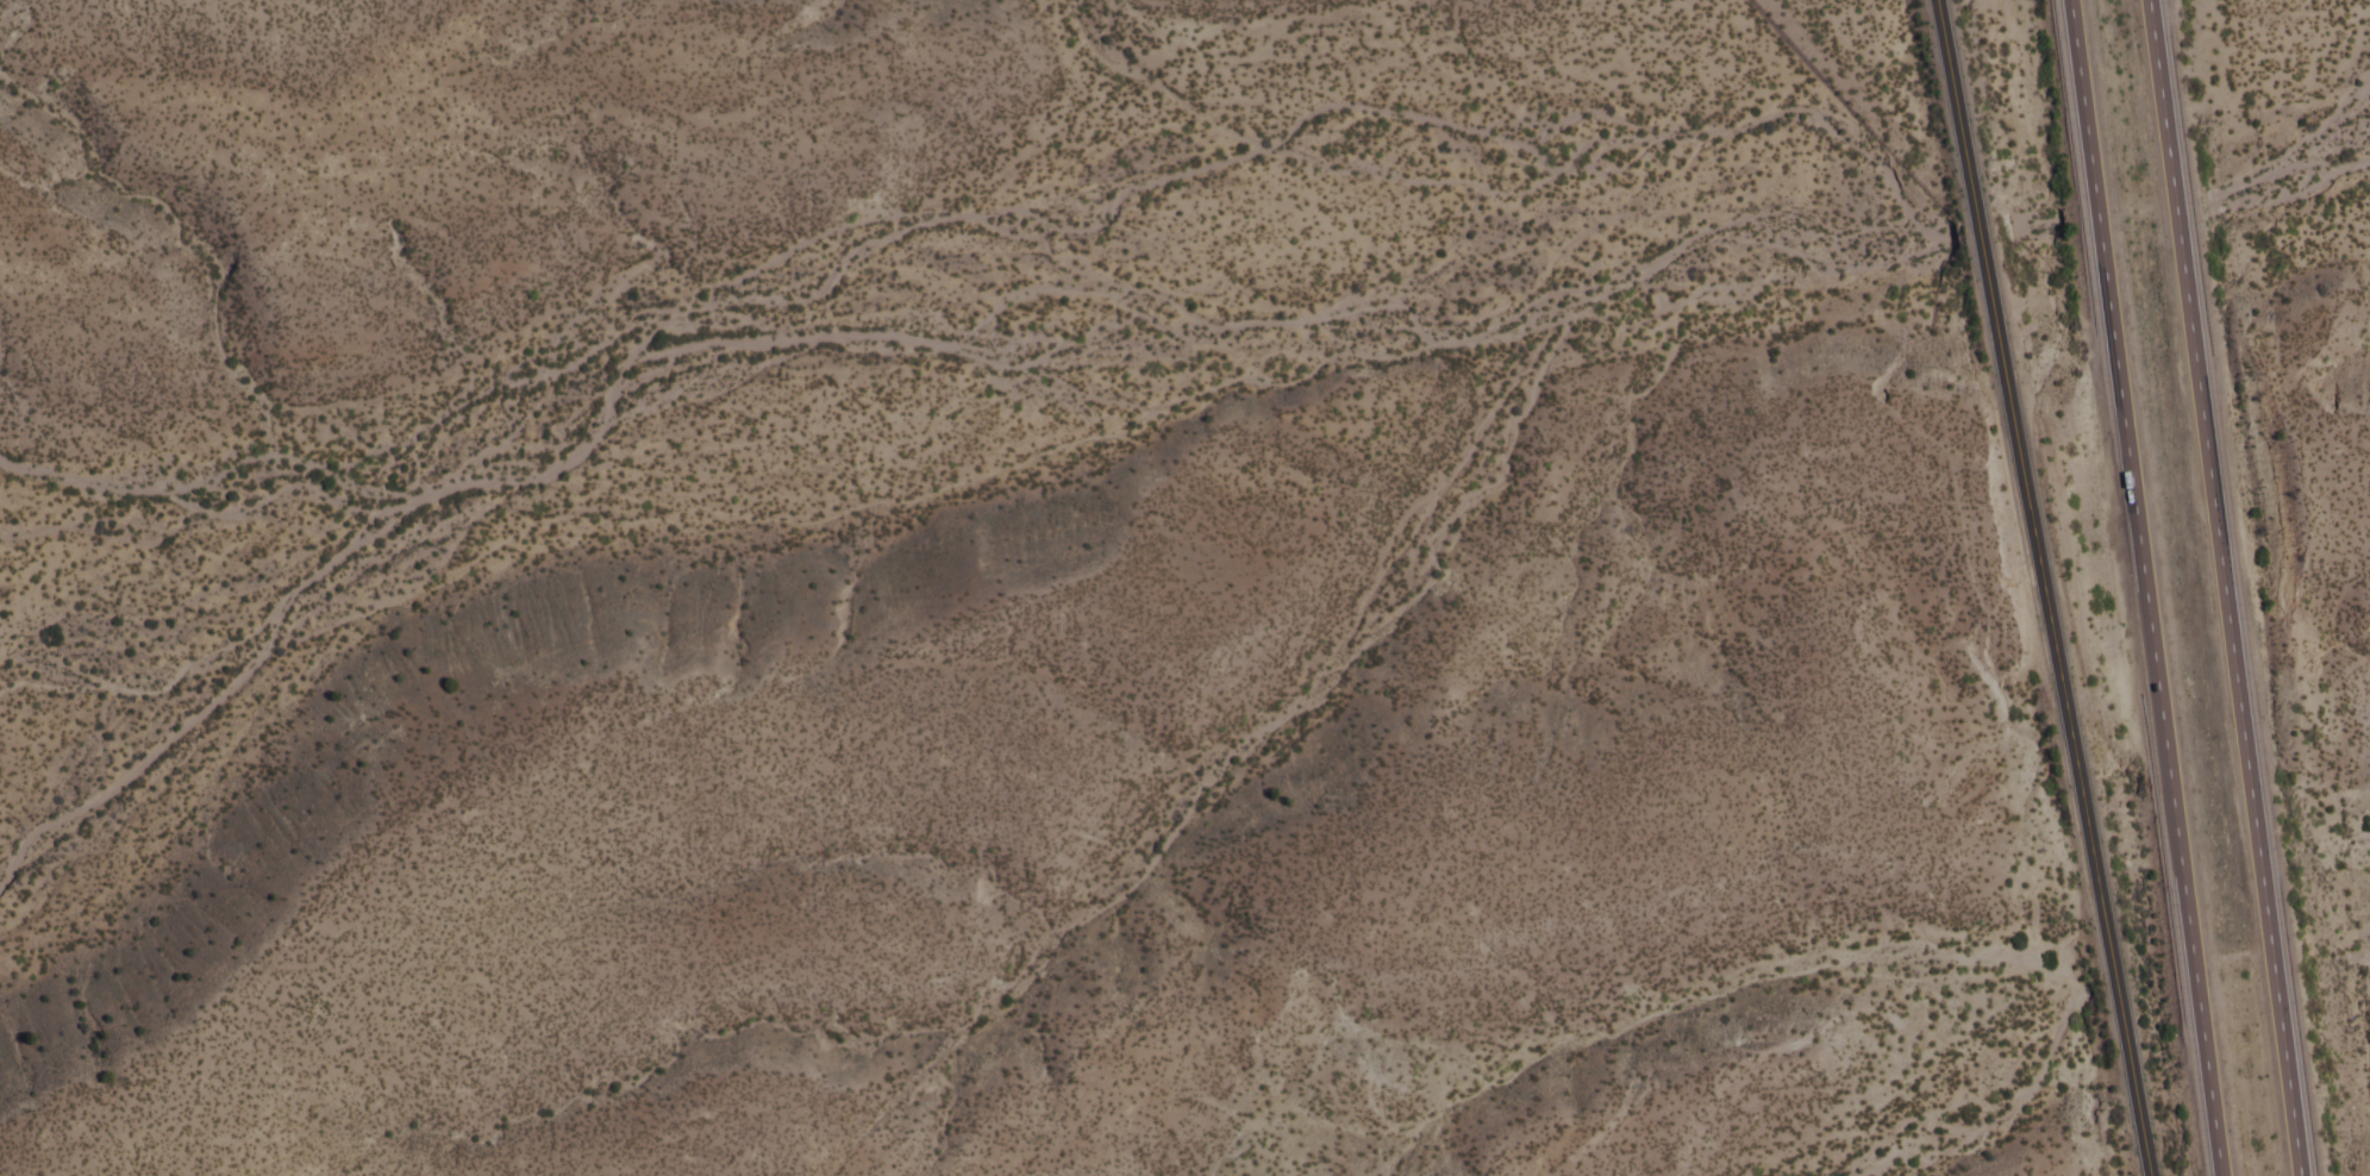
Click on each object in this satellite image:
road: (2047, 587)
road: (2141, 587)
road: (2221, 587)

